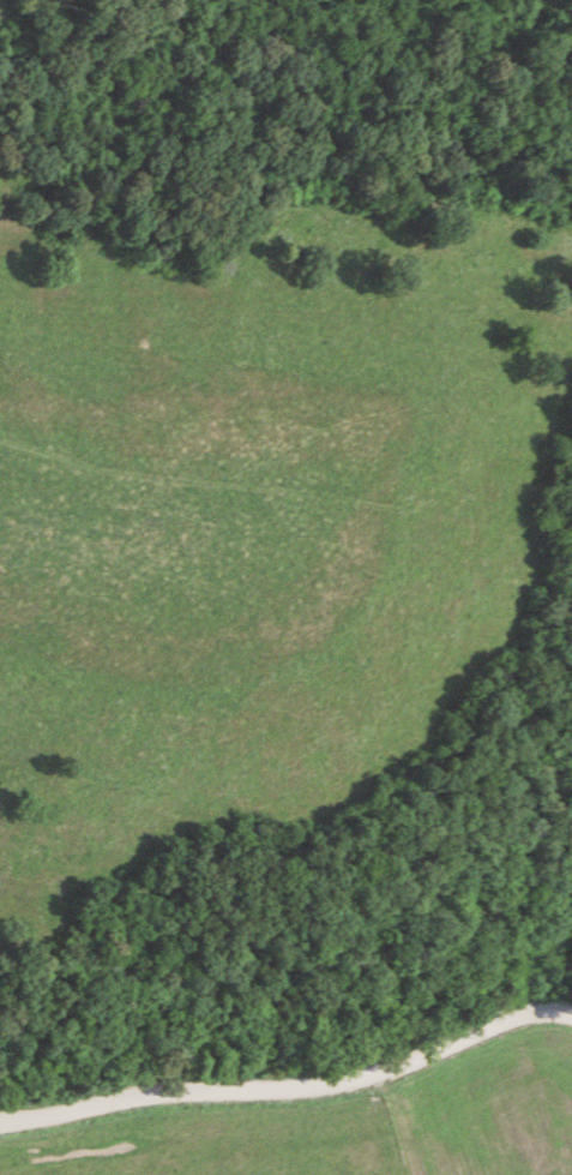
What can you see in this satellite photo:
road: (290, 1086)

